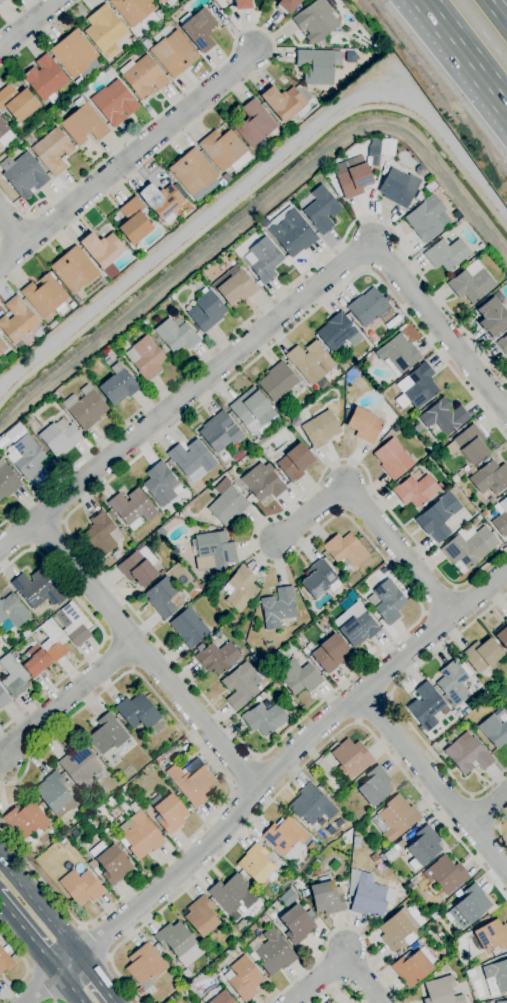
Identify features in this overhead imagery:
building: (1, 1)
building: (166, 2)
building: (242, 4)
building: (287, 6)
building: (133, 10)
road: (498, 10)
road: (18, 15)
building: (316, 21)
road: (28, 24)
building: (105, 29)
building: (198, 29)
road: (40, 33)
road: (273, 45)
building: (172, 52)
road: (464, 54)
building: (75, 55)
building: (318, 66)
building: (143, 77)
building: (45, 79)
building: (79, 82)
building: (17, 103)
building: (114, 103)
building: (283, 103)
building: (84, 124)
building: (254, 124)
building: (286, 129)
building: (5, 135)
road: (140, 149)
building: (52, 151)
building: (224, 151)
building: (23, 174)
building: (194, 174)
building: (352, 177)
building: (226, 178)
building: (222, 183)
building: (398, 188)
building: (162, 201)
building: (321, 210)
building: (428, 219)
building: (134, 221)
road: (13, 229)
road: (184, 234)
building: (292, 234)
building: (102, 249)
building: (446, 254)
road: (13, 256)
building: (264, 260)
building: (74, 270)
building: (471, 285)
building: (234, 286)
building: (44, 296)
road: (272, 301)
building: (368, 307)
building: (206, 311)
building: (492, 318)
building: (17, 322)
building: (51, 323)
road: (269, 327)
building: (337, 333)
building: (176, 336)
building: (502, 345)
building: (2, 348)
building: (398, 355)
building: (145, 358)
building: (310, 362)
building: (277, 382)
building: (117, 386)
building: (420, 386)
building: (85, 408)
building: (253, 410)
building: (443, 419)
building: (364, 425)
building: (321, 429)
building: (220, 432)
building: (59, 437)
building: (468, 445)
building: (26, 457)
building: (393, 459)
building: (191, 460)
building: (295, 463)
building: (490, 478)
building: (7, 482)
building: (263, 482)
building: (159, 484)
building: (415, 491)
building: (226, 504)
building: (132, 508)
road: (370, 515)
building: (438, 517)
building: (501, 518)
building: (101, 534)
building: (469, 548)
building: (213, 551)
building: (345, 551)
building: (138, 567)
building: (319, 580)
building: (36, 589)
building: (239, 589)
building: (163, 598)
building: (388, 602)
building: (278, 608)
building: (13, 612)
building: (75, 625)
building: (357, 626)
building: (189, 628)
road: (102, 631)
building: (502, 635)
building: (53, 641)
building: (16, 653)
building: (329, 654)
building: (482, 655)
road: (145, 656)
building: (217, 658)
building: (35, 661)
building: (13, 676)
building: (299, 677)
building: (453, 683)
building: (240, 686)
building: (3, 697)
road: (66, 699)
road: (392, 704)
building: (506, 704)
building: (426, 706)
road: (371, 708)
building: (137, 712)
building: (264, 719)
road: (229, 730)
building: (494, 731)
building: (107, 734)
building: (467, 754)
building: (348, 759)
building: (79, 765)
road: (244, 772)
road: (295, 774)
building: (192, 782)
road: (433, 782)
road: (262, 783)
building: (375, 786)
road: (229, 787)
building: (55, 795)
building: (311, 805)
building: (134, 808)
road: (488, 808)
building: (168, 813)
building: (394, 818)
building: (26, 820)
building: (69, 827)
road: (498, 829)
building: (139, 836)
building: (284, 836)
building: (356, 843)
building: (399, 845)
building: (424, 846)
building: (390, 854)
building: (374, 859)
building: (110, 863)
building: (256, 865)
building: (94, 868)
building: (443, 877)
building: (409, 886)
building: (81, 887)
building: (232, 894)
building: (369, 895)
building: (327, 898)
building: (472, 904)
road: (40, 905)
building: (200, 917)
building: (296, 925)
road: (340, 929)
building: (397, 929)
building: (436, 931)
building: (491, 936)
road: (29, 937)
road: (94, 942)
building: (420, 942)
building: (178, 943)
building: (271, 953)
road: (337, 958)
building: (5, 962)
building: (145, 965)
road: (27, 967)
building: (412, 967)
building: (444, 969)
building: (496, 977)
road: (97, 978)
building: (243, 978)
road: (339, 984)
road: (42, 986)
road: (69, 988)
building: (140, 991)
building: (441, 991)
building: (217, 996)
building: (326, 1002)
building: (326, 1002)
building: (503, 1002)

